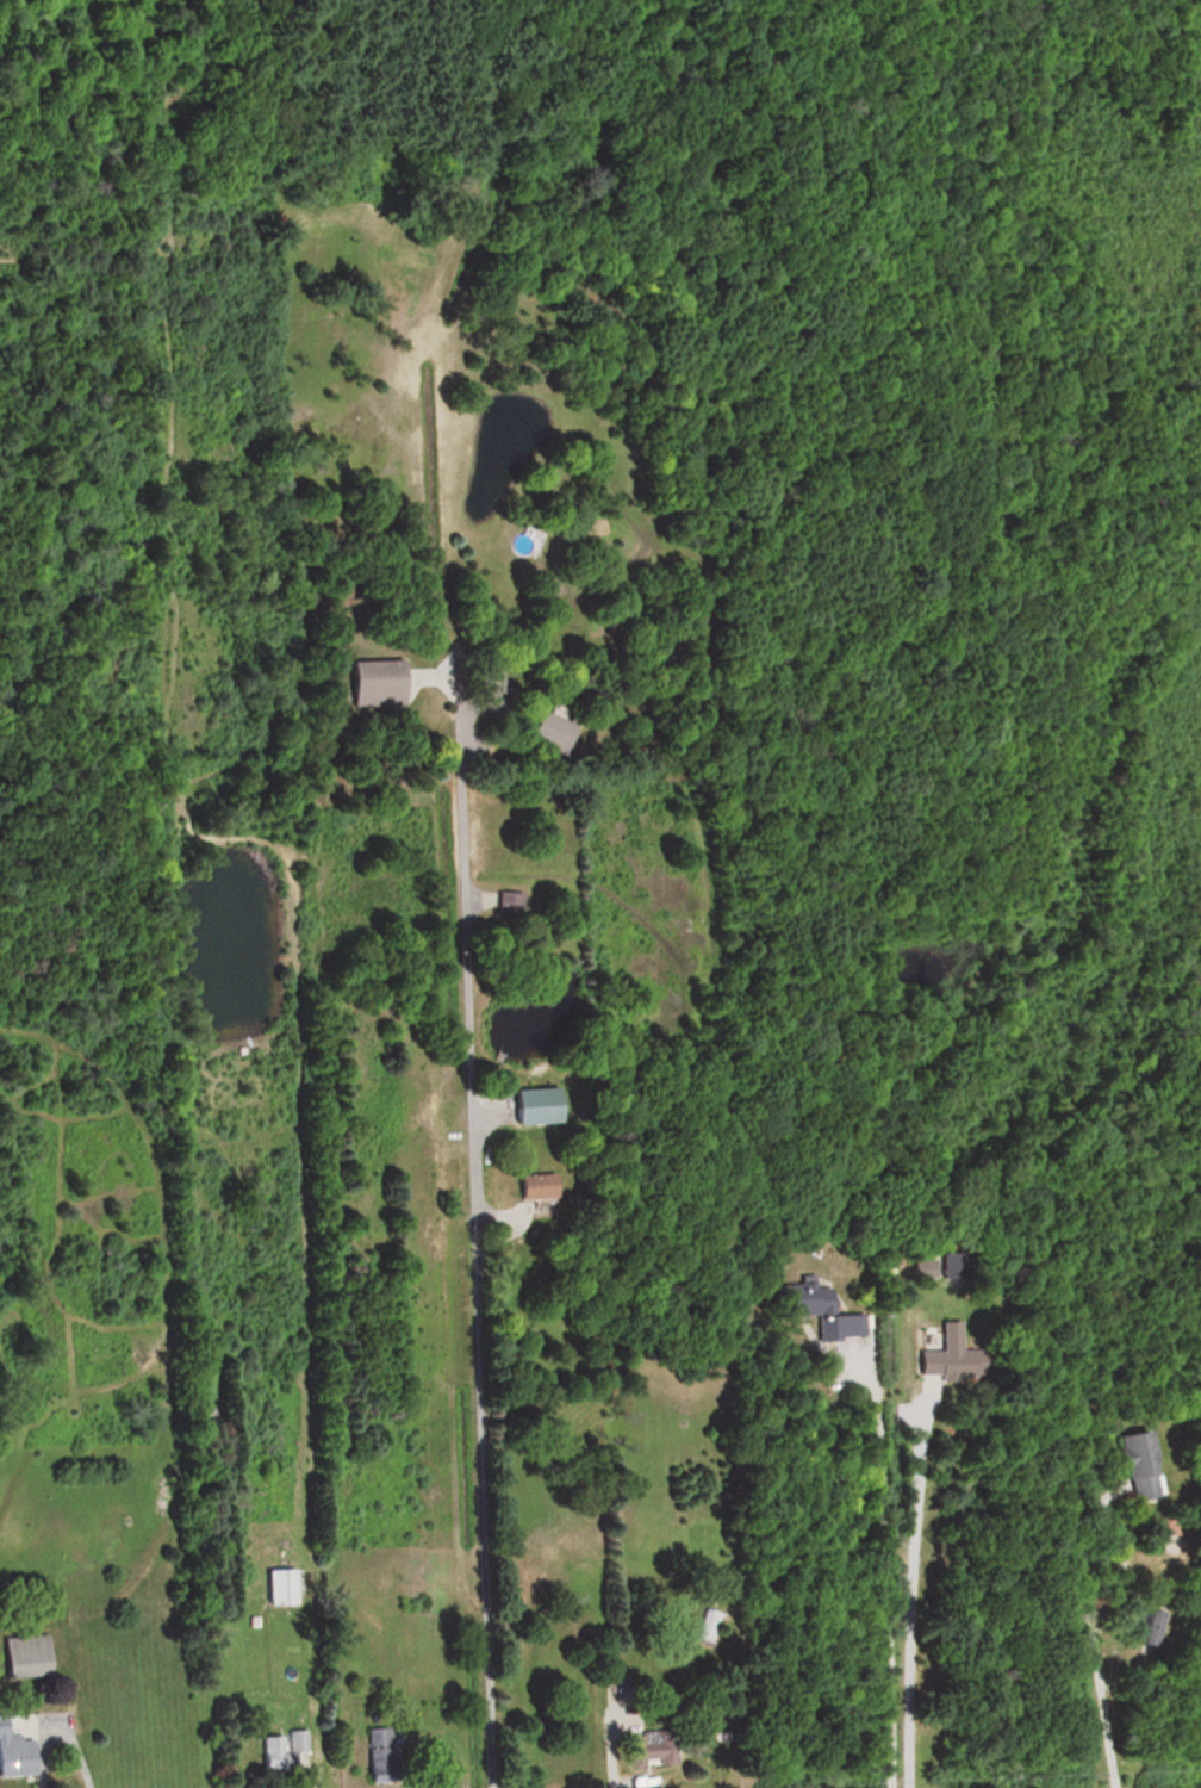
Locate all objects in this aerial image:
building: (374, 683)
building: (548, 732)
road: (471, 946)
building: (534, 1113)
building: (541, 1185)
building: (813, 1309)
building: (947, 1352)
building: (1133, 1465)
road: (490, 1484)
road: (886, 1571)
building: (279, 1585)
road: (913, 1591)
building: (717, 1627)
building: (1152, 1627)
road: (1094, 1644)
building: (25, 1657)
road: (60, 1734)
building: (297, 1740)
building: (272, 1750)
building: (649, 1751)
building: (14, 1752)
road: (646, 1781)

